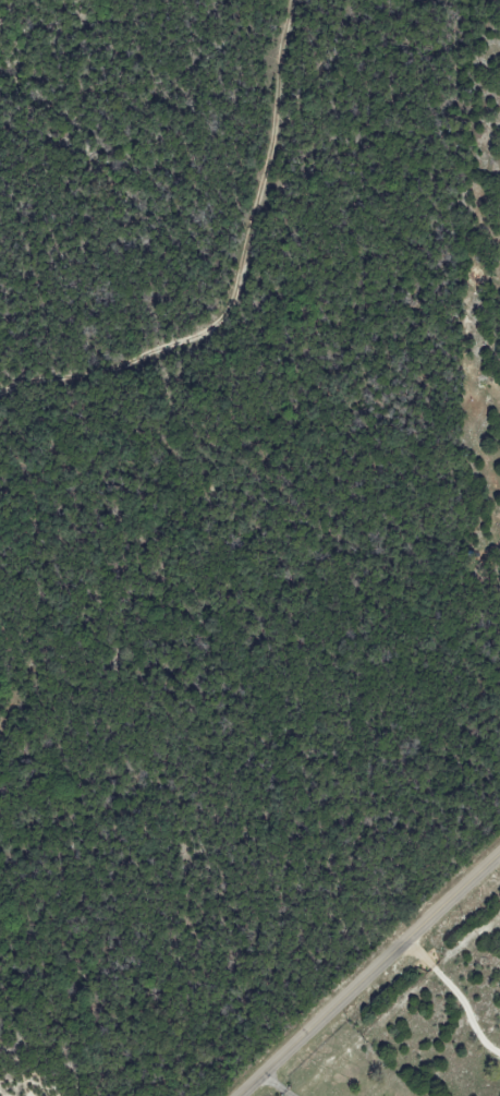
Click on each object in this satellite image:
road: (223, 260)
road: (371, 975)
road: (276, 1086)

